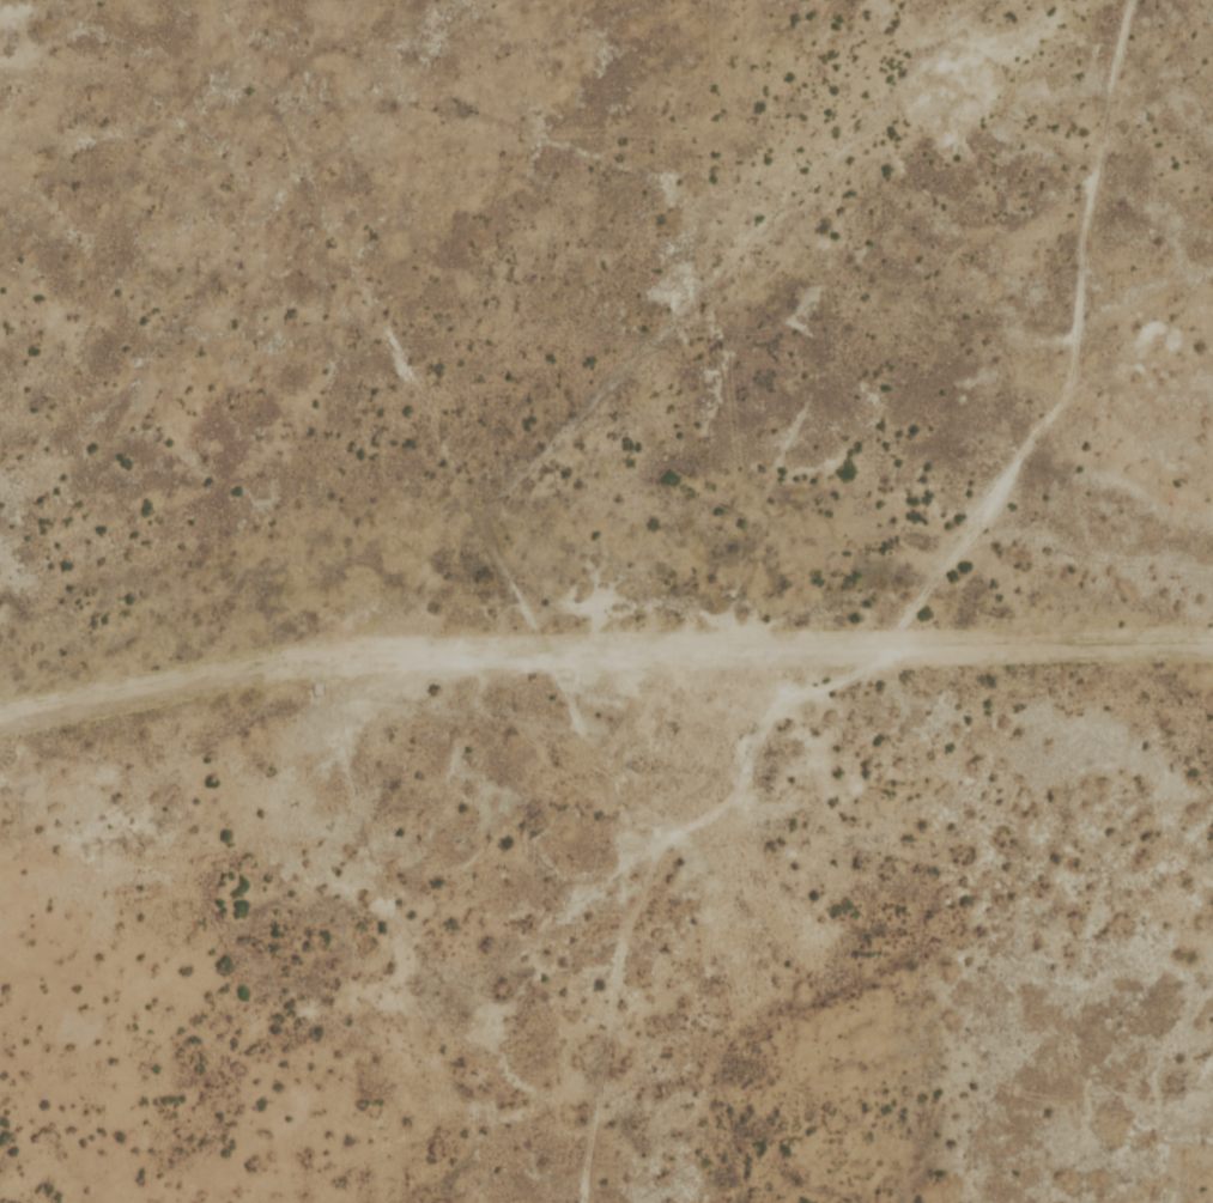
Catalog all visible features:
road: (1072, 350)

